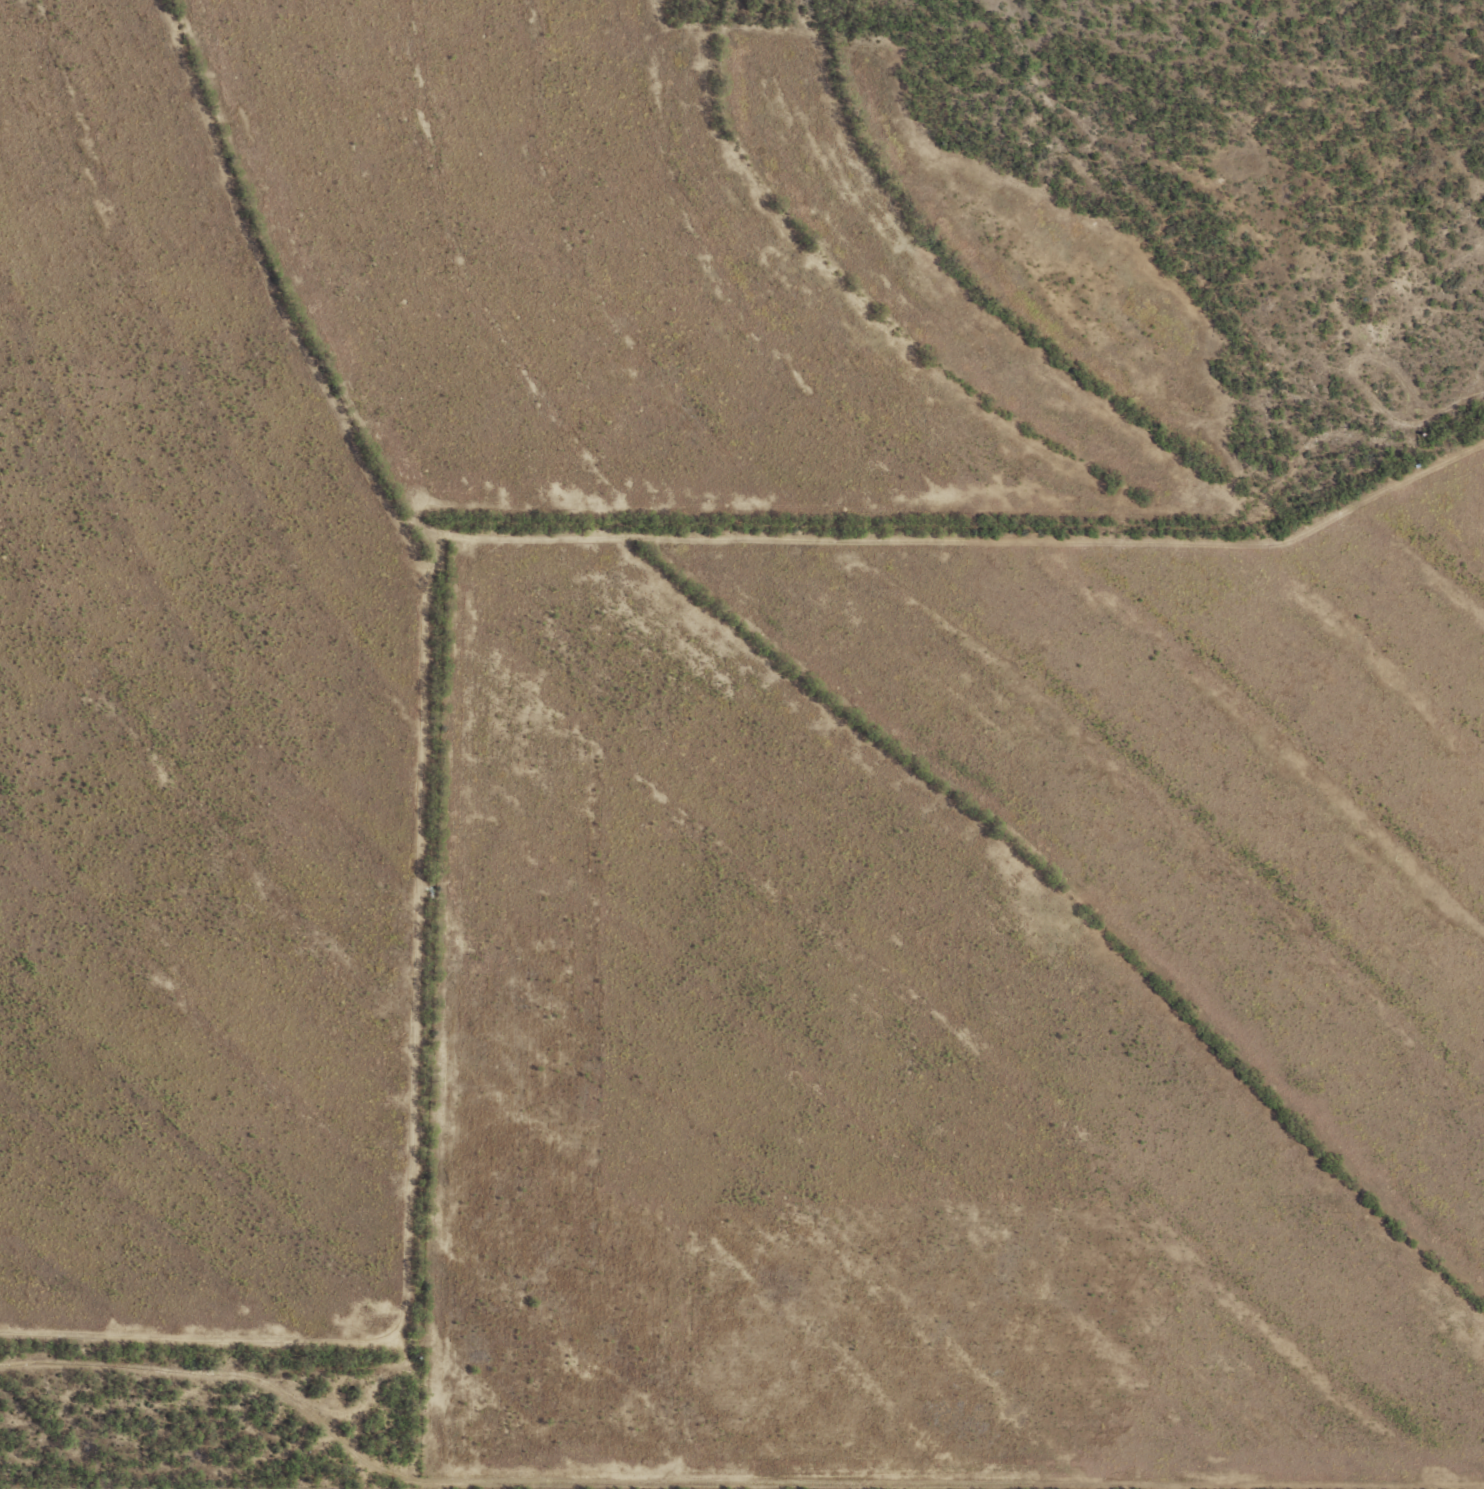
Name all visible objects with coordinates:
road: (1377, 166)

